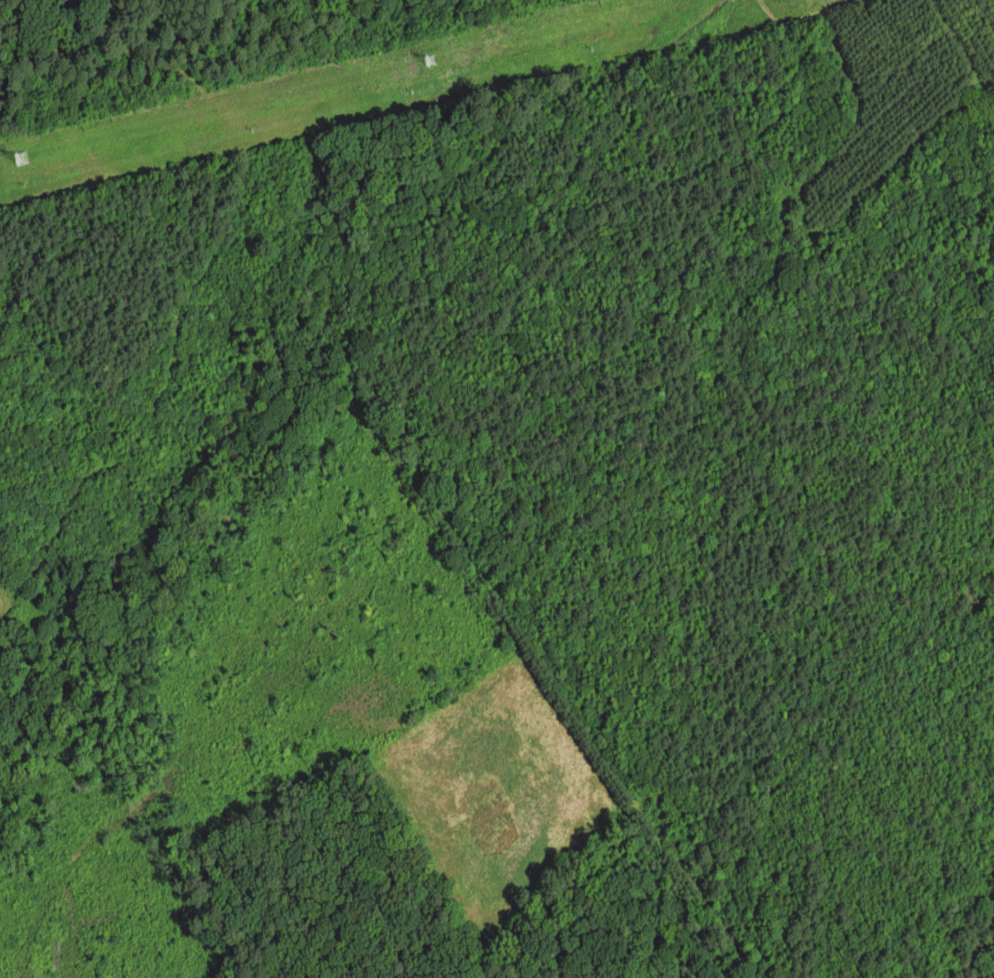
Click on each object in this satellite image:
power tower: (430, 60)
power tower: (22, 158)

